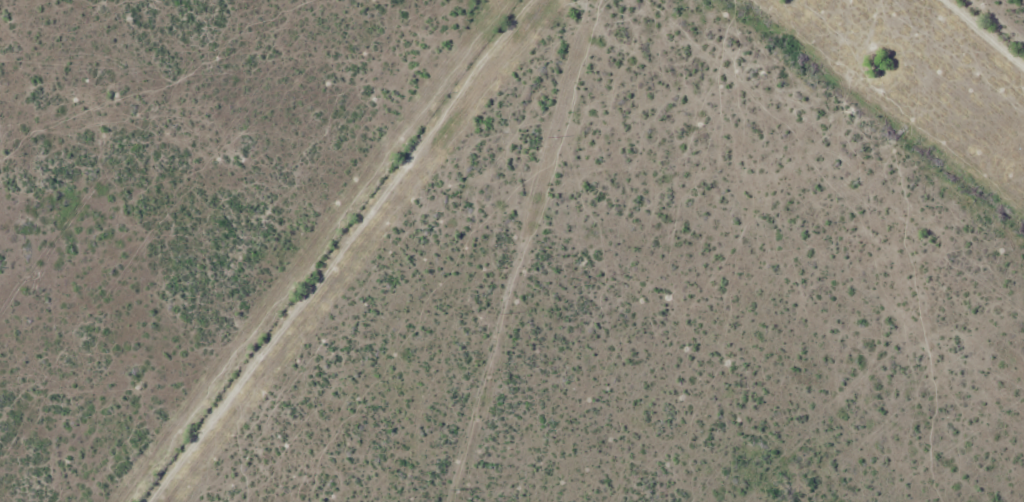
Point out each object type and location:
road: (985, 31)

